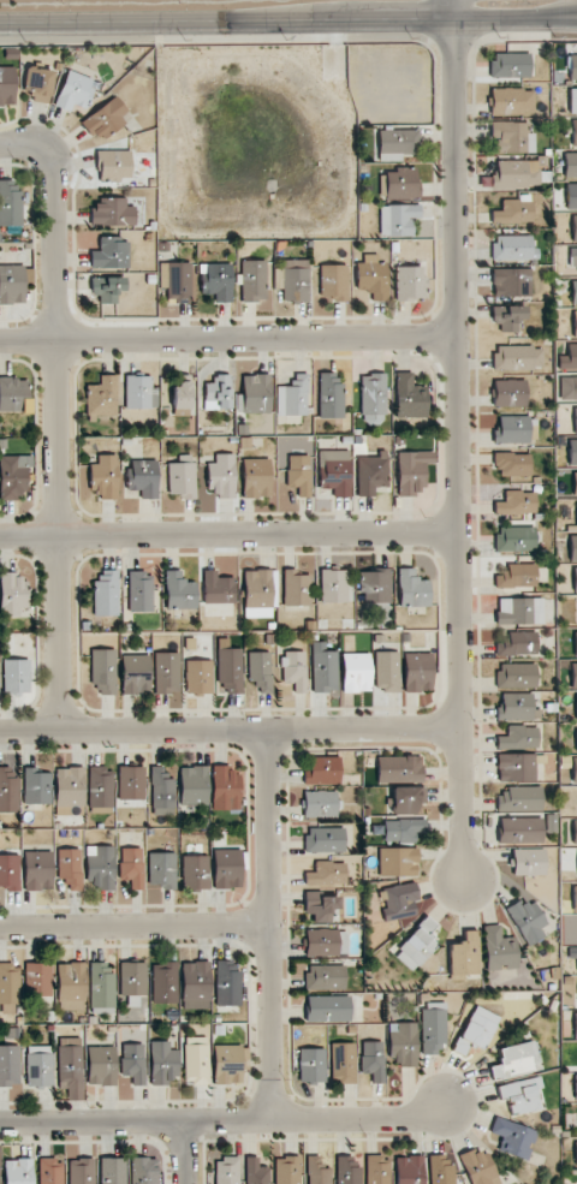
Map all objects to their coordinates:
road: (451, 10)
road: (513, 19)
road: (225, 20)
building: (510, 65)
building: (572, 67)
building: (37, 84)
building: (7, 85)
building: (73, 90)
building: (572, 100)
building: (512, 101)
building: (105, 119)
building: (573, 132)
building: (512, 137)
building: (397, 143)
road: (26, 144)
building: (113, 165)
building: (570, 165)
building: (516, 173)
building: (399, 183)
building: (571, 196)
building: (10, 204)
building: (513, 212)
building: (112, 213)
building: (397, 219)
building: (573, 228)
building: (513, 248)
building: (111, 254)
building: (573, 258)
building: (371, 278)
building: (216, 280)
building: (254, 280)
building: (293, 280)
building: (176, 281)
building: (410, 282)
building: (511, 282)
building: (12, 284)
building: (333, 284)
building: (107, 287)
building: (573, 292)
building: (507, 316)
building: (575, 323)
road: (226, 337)
building: (518, 357)
building: (569, 358)
building: (567, 388)
building: (139, 392)
building: (218, 393)
building: (256, 393)
building: (510, 393)
building: (13, 394)
building: (182, 394)
building: (329, 394)
building: (102, 397)
building: (293, 397)
building: (373, 397)
building: (409, 397)
building: (575, 420)
building: (514, 430)
road: (58, 438)
road: (453, 450)
building: (572, 452)
building: (512, 464)
building: (334, 471)
building: (411, 471)
building: (370, 472)
building: (299, 474)
building: (12, 475)
building: (221, 475)
building: (103, 476)
building: (257, 477)
building: (182, 478)
building: (575, 483)
building: (516, 502)
building: (576, 518)
road: (226, 534)
building: (514, 539)
building: (572, 548)
building: (517, 576)
building: (575, 578)
building: (374, 584)
building: (334, 585)
building: (218, 588)
building: (296, 588)
building: (411, 589)
building: (139, 591)
building: (179, 591)
building: (105, 593)
building: (257, 593)
building: (12, 595)
building: (519, 611)
building: (516, 643)
building: (575, 643)
building: (102, 670)
building: (260, 670)
building: (295, 670)
building: (230, 671)
building: (417, 671)
building: (166, 672)
building: (356, 672)
building: (387, 672)
building: (136, 673)
building: (516, 674)
building: (16, 676)
building: (573, 676)
building: (198, 677)
building: (576, 706)
building: (516, 707)
road: (228, 730)
building: (518, 737)
building: (576, 739)
building: (399, 767)
building: (516, 767)
building: (573, 769)
building: (322, 771)
building: (36, 786)
building: (100, 786)
building: (131, 786)
building: (194, 786)
building: (8, 789)
building: (161, 789)
building: (225, 789)
building: (69, 791)
building: (406, 799)
building: (519, 799)
building: (320, 804)
building: (401, 829)
building: (521, 829)
building: (575, 831)
building: (325, 839)
building: (398, 862)
building: (529, 862)
building: (101, 865)
building: (70, 867)
building: (131, 867)
building: (227, 868)
building: (37, 870)
building: (161, 870)
building: (10, 871)
building: (195, 871)
building: (327, 874)
building: (575, 898)
building: (398, 902)
building: (322, 906)
building: (527, 920)
road: (133, 921)
road: (268, 923)
building: (326, 942)
building: (417, 945)
building: (499, 950)
building: (572, 952)
building: (464, 956)
building: (326, 977)
building: (38, 978)
building: (132, 981)
building: (163, 982)
building: (227, 983)
building: (195, 984)
building: (72, 986)
building: (8, 988)
building: (101, 988)
building: (327, 1009)
building: (575, 1024)
building: (433, 1028)
building: (476, 1031)
building: (403, 1042)
building: (196, 1060)
building: (373, 1060)
building: (514, 1060)
building: (133, 1063)
building: (163, 1063)
building: (343, 1063)
building: (227, 1064)
building: (10, 1065)
building: (40, 1065)
building: (101, 1065)
building: (311, 1065)
building: (70, 1066)
building: (575, 1085)
building: (521, 1095)
road: (224, 1118)
building: (513, 1137)
road: (185, 1152)
building: (576, 1153)
building: (440, 1167)
building: (478, 1167)
building: (286, 1170)
building: (347, 1170)
building: (376, 1170)
building: (409, 1170)
building: (18, 1171)
building: (50, 1171)
building: (81, 1171)
building: (112, 1171)
building: (143, 1171)
building: (226, 1171)
building: (255, 1171)
building: (317, 1171)

